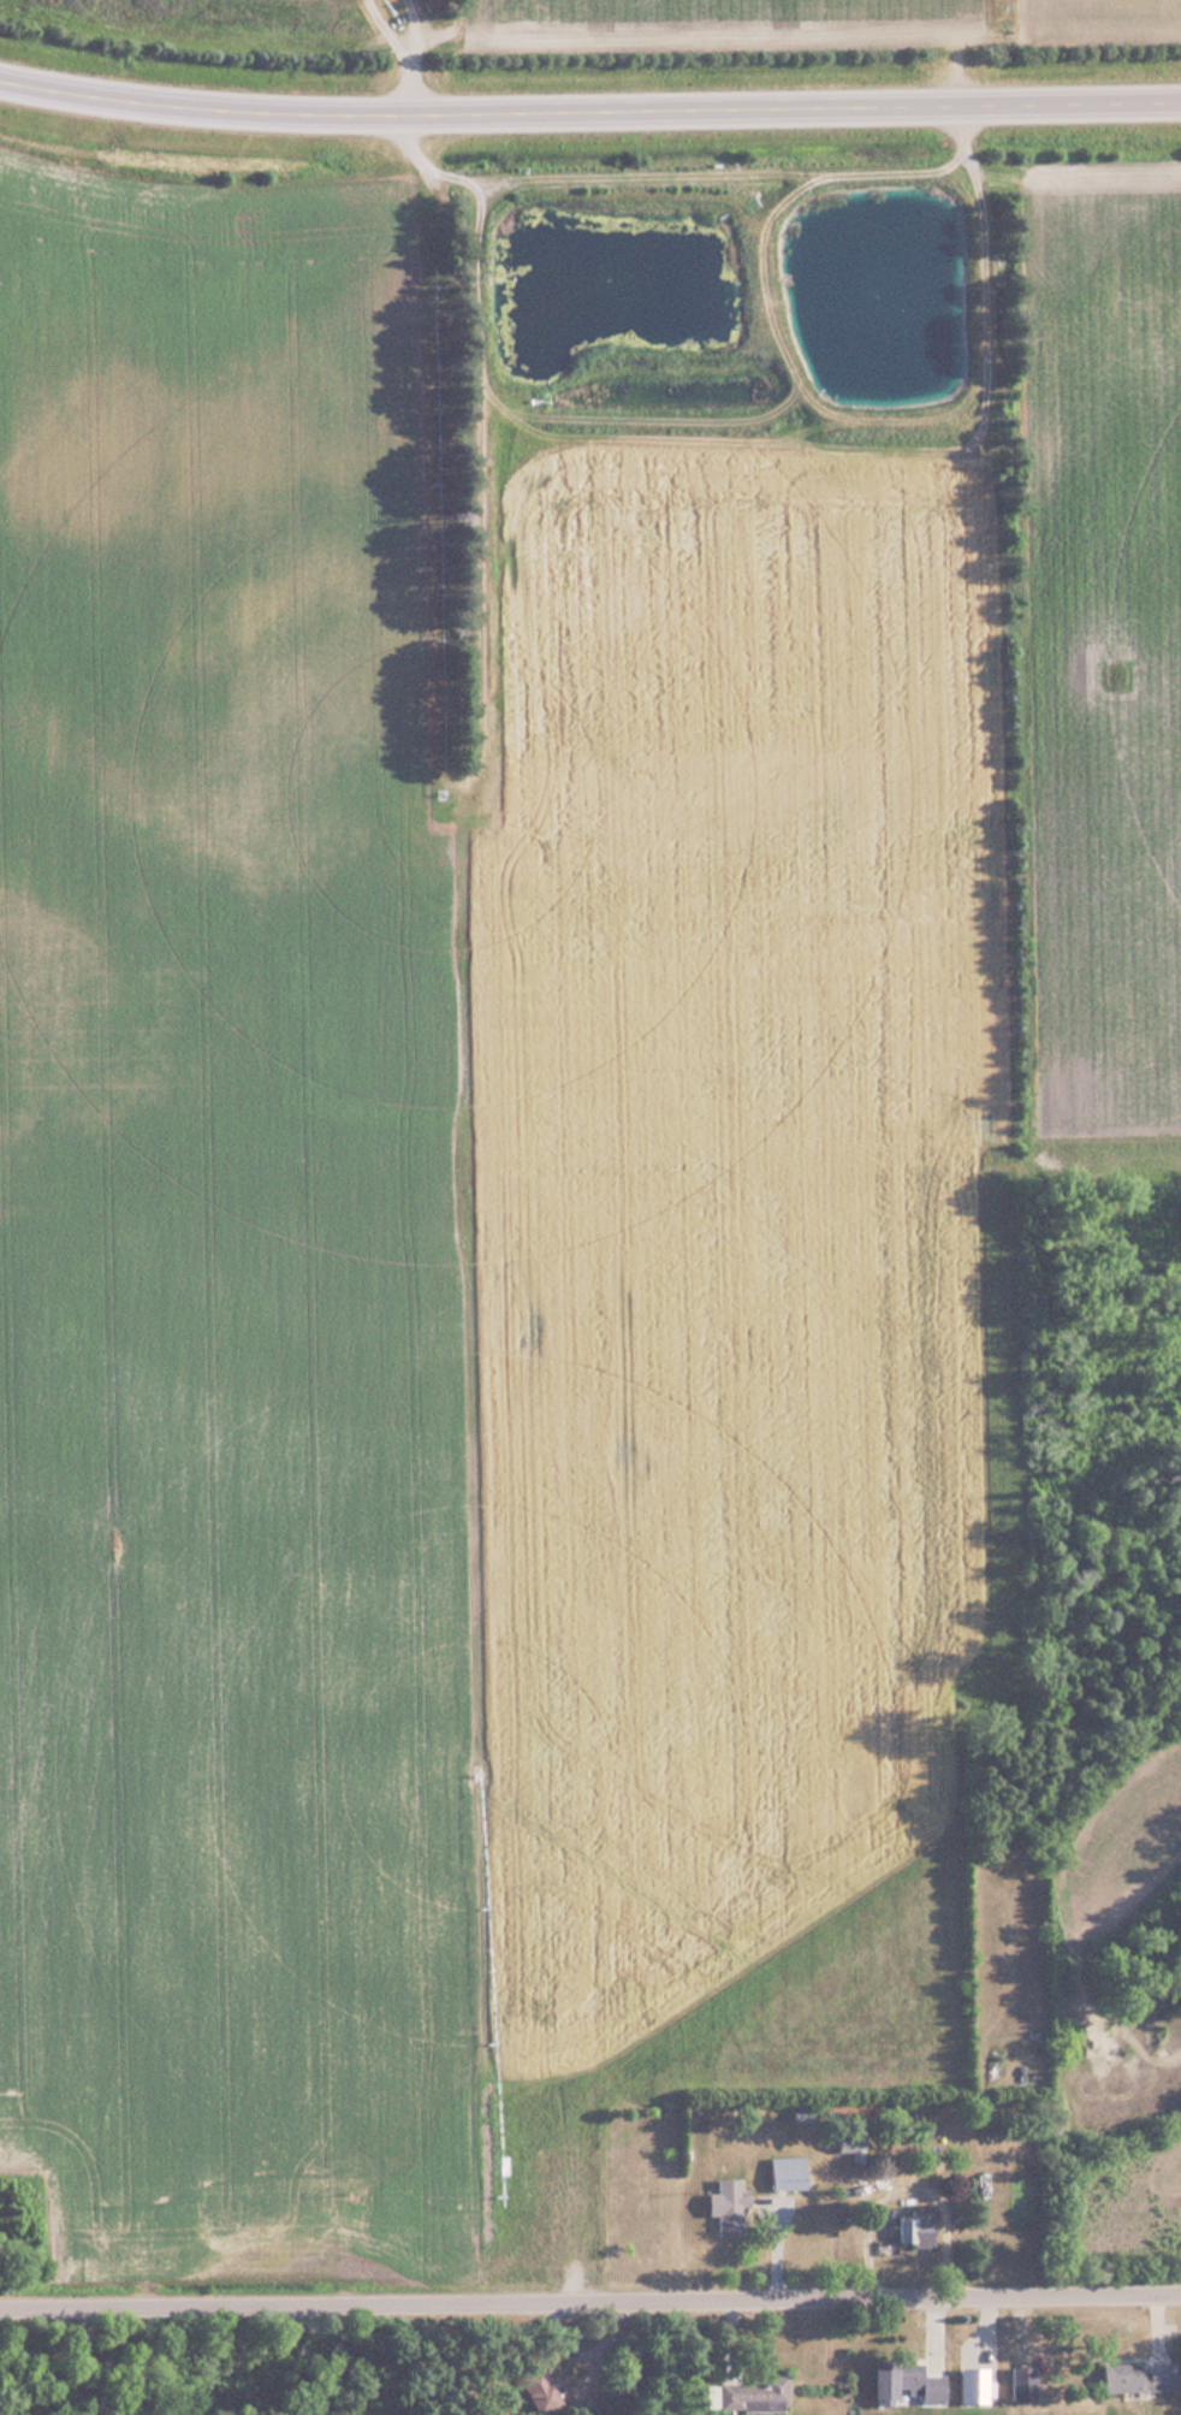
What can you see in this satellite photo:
road: (589, 116)
building: (844, 2145)
building: (785, 2173)
building: (724, 2204)
building: (910, 2231)
road: (590, 2308)
building: (1132, 2378)
building: (919, 2384)
building: (1022, 2384)
building: (536, 2391)
building: (752, 2395)

